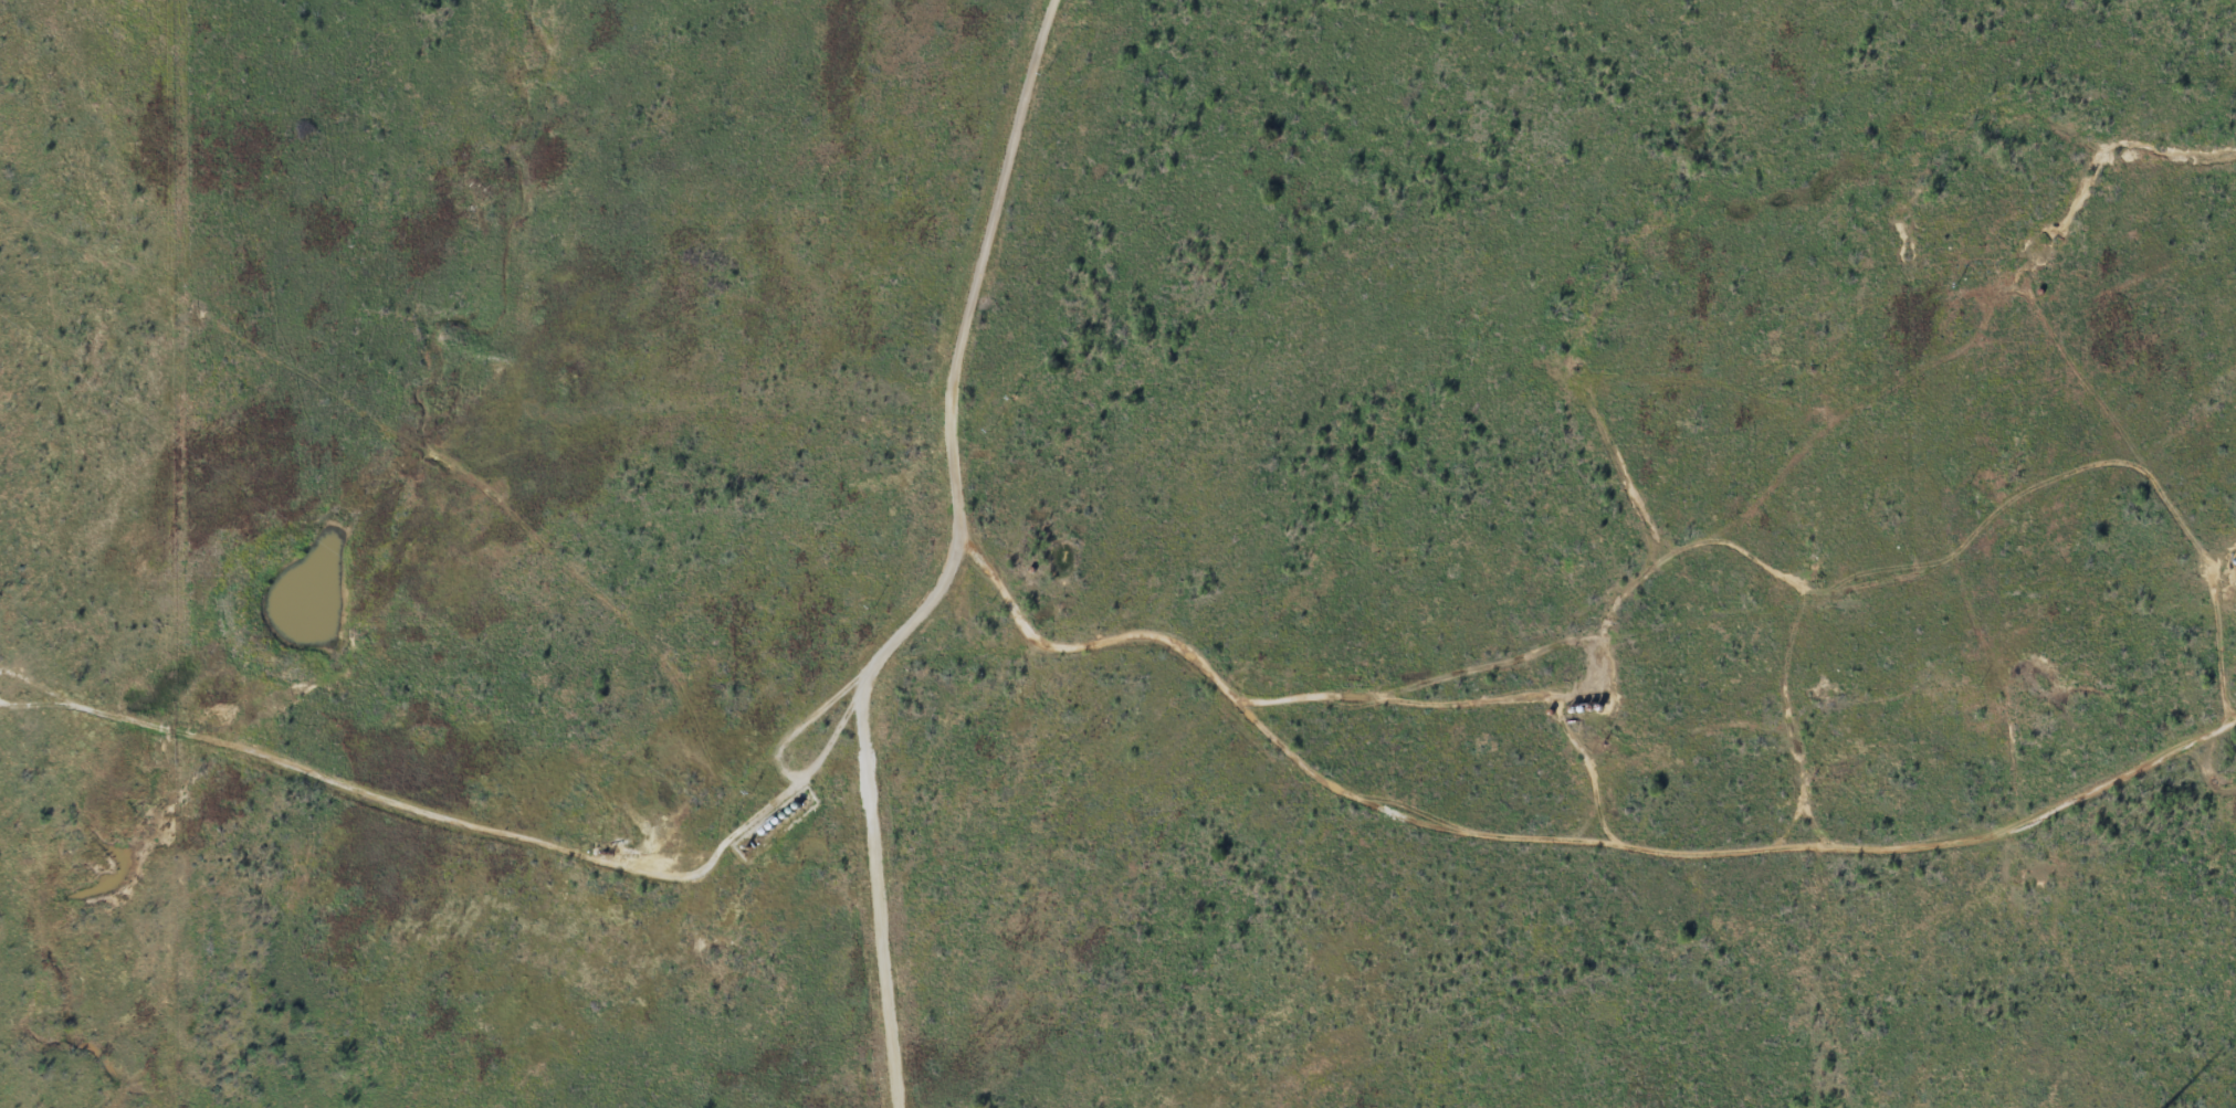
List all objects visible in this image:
road: (1040, 612)
road: (818, 743)
road: (1571, 879)

